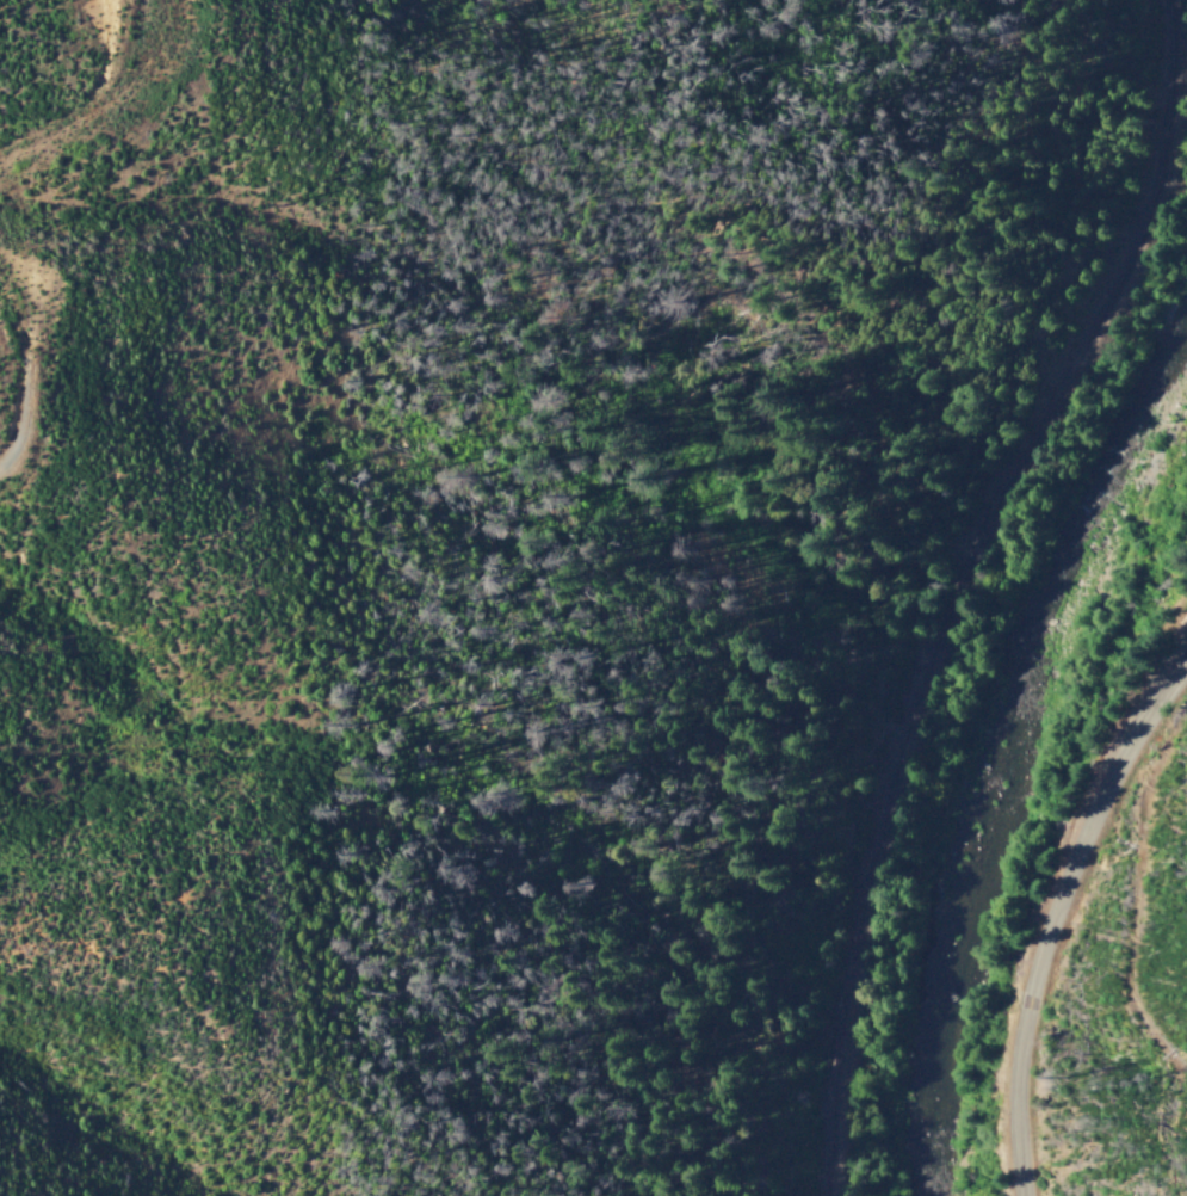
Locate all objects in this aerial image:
road: (136, 72)
road: (37, 135)
road: (31, 370)
railway: (962, 581)
road: (1057, 918)

